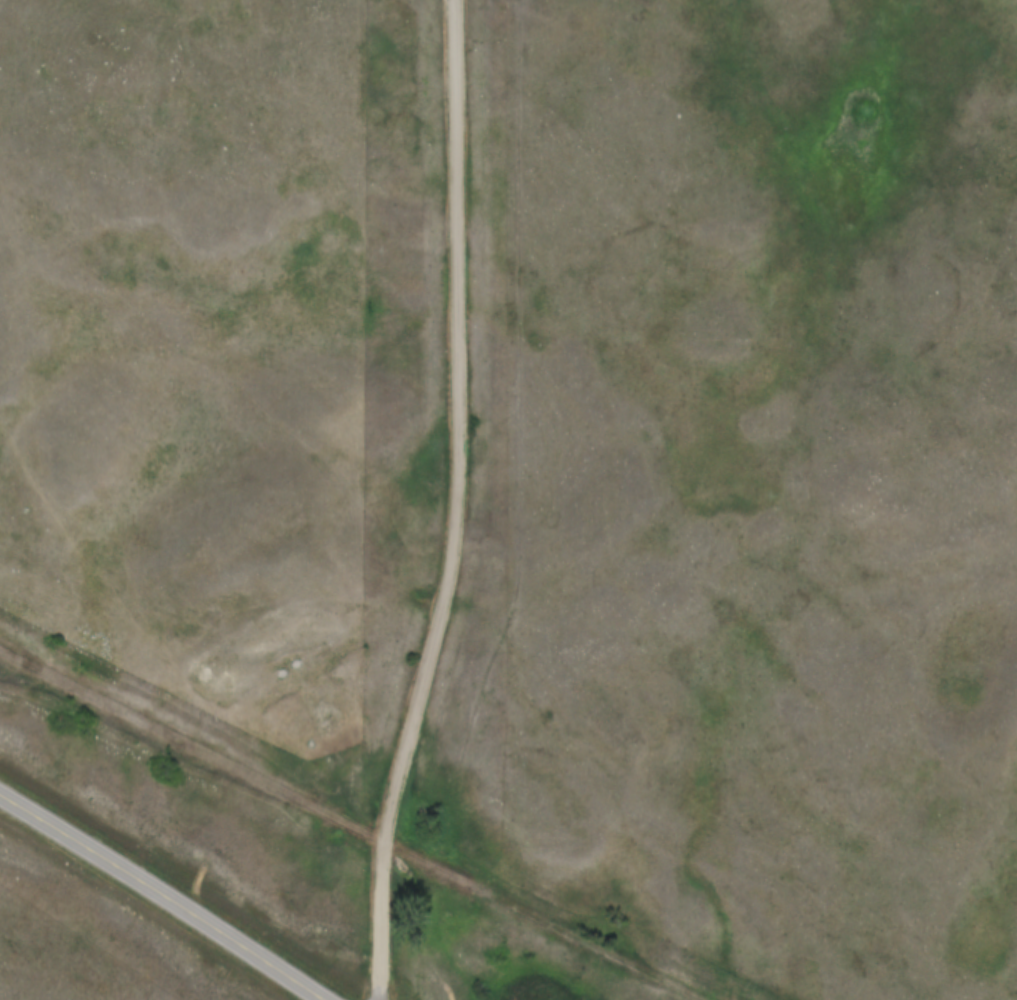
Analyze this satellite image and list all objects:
road: (458, 504)
road: (168, 892)

